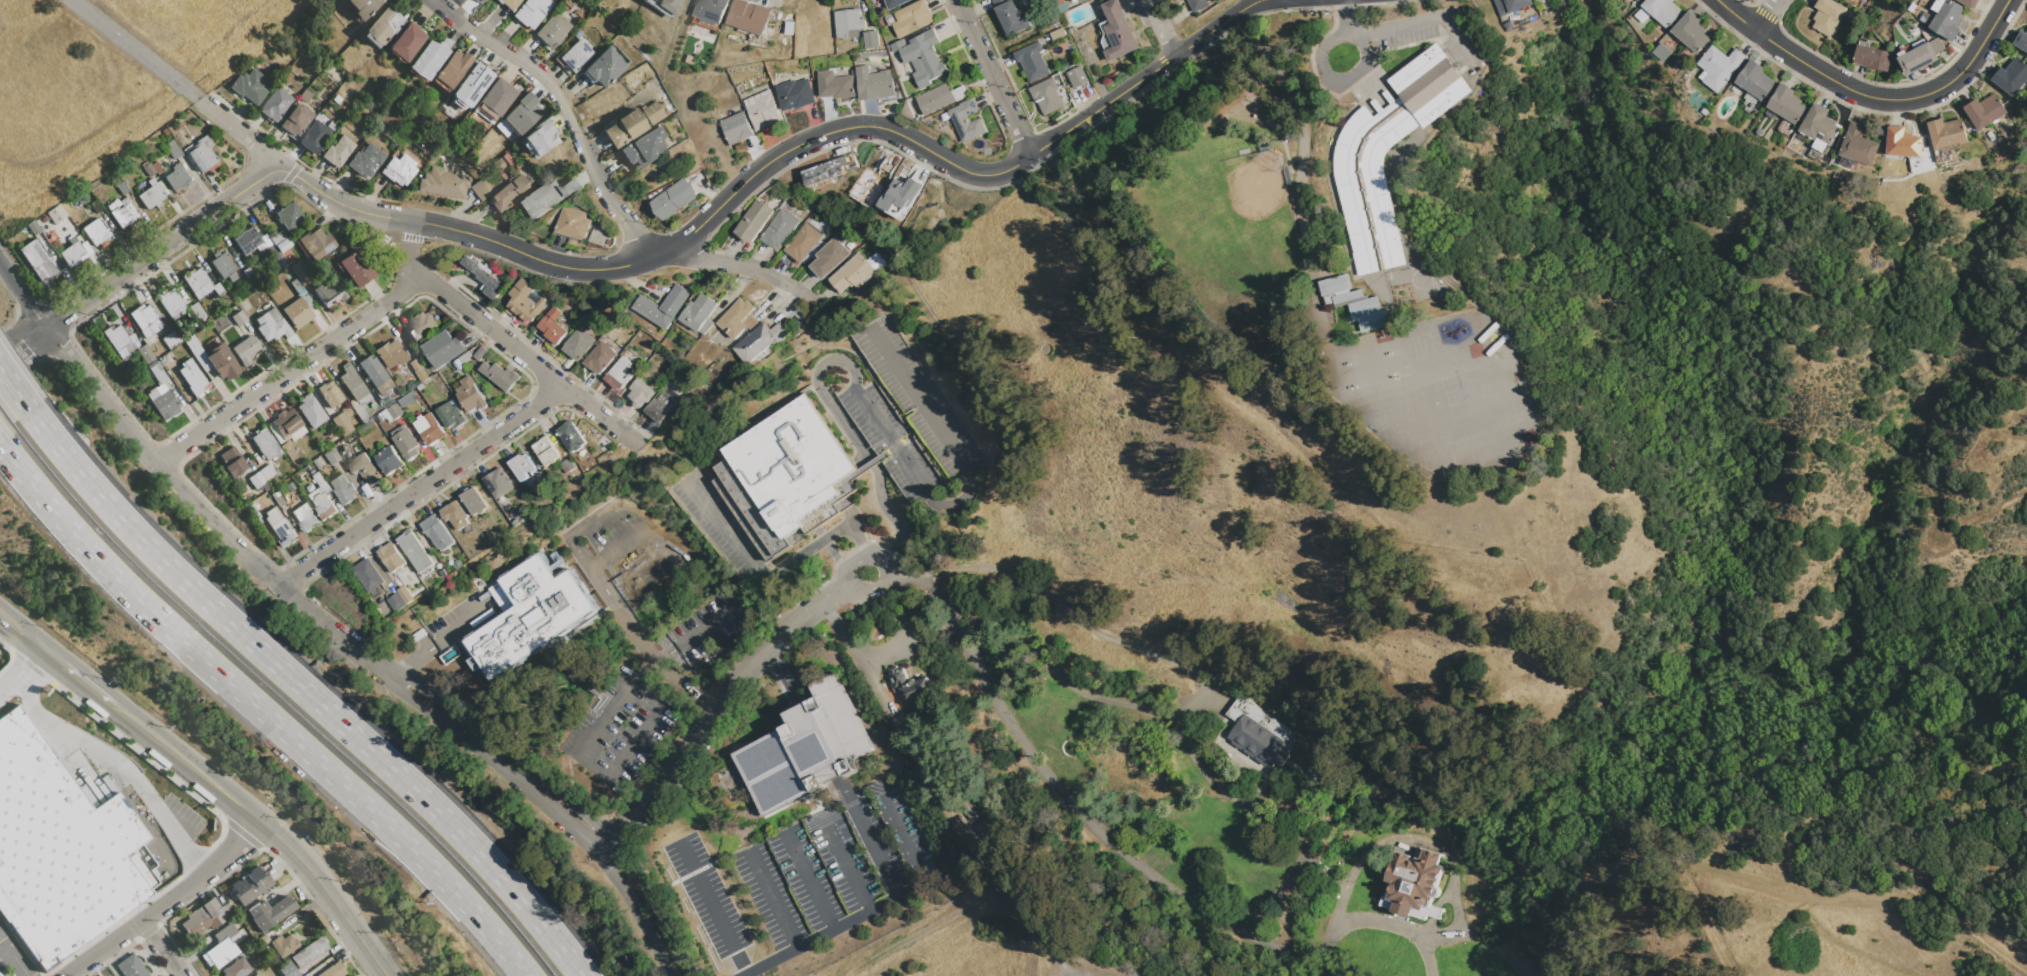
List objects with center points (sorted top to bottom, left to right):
building: (1181, 0)
building: (1538, 0)
building: (1637, 0)
building: (478, 1)
building: (1078, 1)
building: (509, 3)
building: (1969, 3)
building: (895, 4)
building: (1197, 4)
building: (1512, 5)
building: (1938, 5)
building: (667, 6)
building: (363, 7)
building: (712, 10)
building: (1662, 11)
building: (530, 12)
building: (774, 13)
building: (1642, 15)
building: (1827, 15)
building: (1010, 16)
road: (1767, 16)
building: (749, 17)
building: (910, 19)
building: (1945, 20)
road: (1418, 22)
building: (848, 23)
building: (1510, 25)
building: (382, 28)
road: (1161, 28)
building: (551, 30)
building: (1118, 31)
building: (1691, 32)
building: (871, 40)
building: (2021, 40)
building: (406, 42)
building: (1918, 43)
road: (134, 49)
building: (1663, 52)
building: (1903, 53)
building: (575, 55)
building: (1872, 56)
building: (1921, 56)
building: (922, 57)
building: (427, 59)
building: (1032, 62)
building: (1719, 67)
building: (452, 68)
building: (604, 68)
road: (1359, 68)
building: (2011, 76)
road: (992, 77)
building: (1076, 77)
building: (1754, 80)
park: (112, 81)
building: (874, 84)
building: (471, 85)
building: (835, 85)
building: (249, 86)
building: (795, 94)
building: (304, 96)
building: (1047, 96)
road: (1872, 96)
building: (498, 97)
building: (939, 98)
building: (336, 99)
building: (1751, 102)
building: (275, 104)
building: (1786, 104)
road: (615, 111)
building: (1984, 111)
building: (764, 112)
building: (1705, 112)
building: (522, 113)
building: (295, 120)
building: (966, 121)
building: (631, 123)
building: (331, 125)
building: (1820, 125)
building: (736, 128)
road: (239, 131)
building: (164, 132)
building: (1947, 132)
building: (315, 137)
building: (538, 138)
building: (1903, 143)
building: (1821, 145)
building: (1858, 145)
road: (794, 146)
building: (643, 147)
building: (172, 149)
building: (337, 150)
building: (201, 154)
building: (365, 160)
building: (1365, 166)
building: (155, 167)
road: (1299, 168)
building: (147, 169)
building: (399, 169)
building: (831, 170)
road: (295, 176)
building: (177, 177)
building: (443, 183)
building: (122, 187)
building: (569, 187)
building: (482, 189)
road: (603, 189)
building: (511, 193)
building: (151, 195)
building: (900, 198)
building: (674, 199)
building: (544, 200)
building: (95, 206)
building: (123, 213)
building: (56, 214)
building: (288, 215)
building: (44, 218)
park: (1205, 218)
building: (753, 221)
building: (572, 223)
road: (359, 226)
building: (33, 227)
building: (779, 230)
building: (96, 233)
building: (597, 239)
building: (248, 240)
building: (266, 240)
road: (410, 240)
building: (281, 241)
building: (316, 243)
building: (802, 243)
road: (162, 244)
building: (272, 251)
building: (72, 252)
building: (829, 258)
building: (37, 259)
building: (875, 262)
building: (471, 263)
building: (223, 265)
building: (355, 267)
building: (248, 272)
building: (302, 272)
building: (852, 274)
building: (489, 281)
building: (197, 282)
building: (254, 283)
building: (218, 289)
building: (329, 291)
building: (301, 293)
road: (22, 294)
building: (525, 302)
building: (171, 303)
building: (1354, 303)
building: (140, 307)
building: (663, 307)
building: (197, 311)
building: (297, 312)
building: (274, 314)
building: (700, 314)
building: (238, 318)
building: (735, 318)
building: (146, 320)
building: (422, 326)
building: (553, 326)
building: (271, 327)
road: (20, 332)
building: (117, 337)
building: (172, 339)
building: (760, 341)
building: (579, 344)
building: (443, 349)
building: (244, 350)
building: (122, 352)
building: (197, 352)
building: (145, 354)
building: (390, 354)
building: (481, 354)
road: (523, 355)
road: (28, 357)
building: (466, 357)
building: (599, 358)
building: (222, 362)
building: (458, 365)
building: (156, 369)
road: (289, 370)
building: (418, 370)
building: (376, 375)
building: (500, 375)
building: (619, 375)
building: (163, 376)
building: (192, 377)
building: (353, 384)
building: (160, 388)
building: (420, 388)
road: (15, 390)
building: (639, 393)
building: (330, 394)
building: (471, 395)
building: (675, 396)
building: (407, 400)
building: (162, 403)
building: (353, 404)
building: (660, 407)
building: (311, 411)
building: (395, 411)
building: (451, 415)
building: (343, 421)
building: (288, 425)
road: (877, 425)
building: (370, 428)
building: (429, 429)
building: (571, 436)
building: (405, 442)
building: (265, 444)
building: (288, 449)
building: (546, 451)
building: (611, 457)
building: (388, 460)
building: (231, 461)
building: (315, 464)
building: (792, 464)
building: (568, 466)
building: (523, 467)
building: (364, 469)
building: (266, 472)
building: (255, 480)
building: (499, 483)
road: (421, 488)
building: (342, 490)
building: (321, 498)
building: (278, 499)
building: (473, 501)
building: (252, 506)
road: (202, 516)
building: (305, 516)
building: (455, 516)
building: (279, 526)
building: (437, 533)
road: (665, 543)
building: (414, 551)
building: (457, 551)
building: (391, 557)
road: (882, 568)
building: (368, 575)
road: (770, 576)
building: (405, 595)
building: (396, 602)
building: (531, 616)
road: (620, 617)
road: (8, 623)
road: (1078, 623)
road: (436, 643)
road: (855, 650)
road: (63, 667)
road: (784, 672)
road: (22, 674)
building: (908, 685)
road: (307, 692)
road: (716, 706)
road: (261, 712)
road: (126, 717)
building: (1261, 734)
road: (587, 740)
road: (162, 746)
building: (806, 749)
road: (508, 752)
road: (118, 768)
road: (499, 771)
road: (219, 791)
road: (1231, 798)
building: (988, 828)
road: (904, 840)
road: (1108, 843)
building: (61, 849)
road: (878, 852)
parking lot: (837, 858)
road: (848, 867)
road: (810, 882)
building: (1413, 884)
building: (250, 885)
road: (327, 891)
road: (1802, 898)
road: (165, 901)
road: (773, 901)
road: (655, 910)
road: (713, 910)
building: (269, 912)
building: (202, 918)
road: (635, 919)
road: (844, 921)
road: (1393, 925)
building: (224, 932)
road: (1441, 936)
building: (261, 940)
building: (283, 945)
road: (162, 948)
road: (3, 949)
building: (309, 952)
building: (219, 953)
parking lot: (10, 956)
road: (13, 956)
building: (130, 967)
building: (236, 968)
building: (287, 969)
building: (267, 970)
building: (333, 970)
building: (100, 975)
building: (255, 975)
building: (349, 975)

